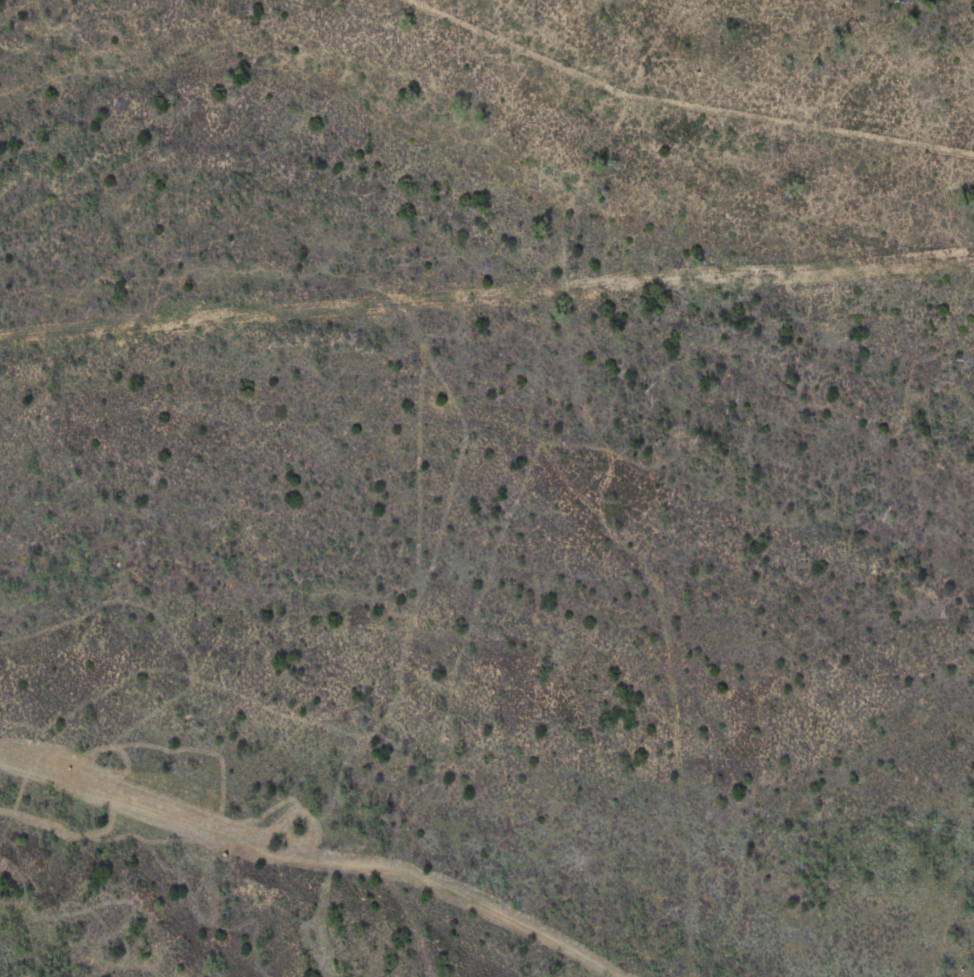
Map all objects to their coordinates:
road: (609, 479)
road: (314, 861)

